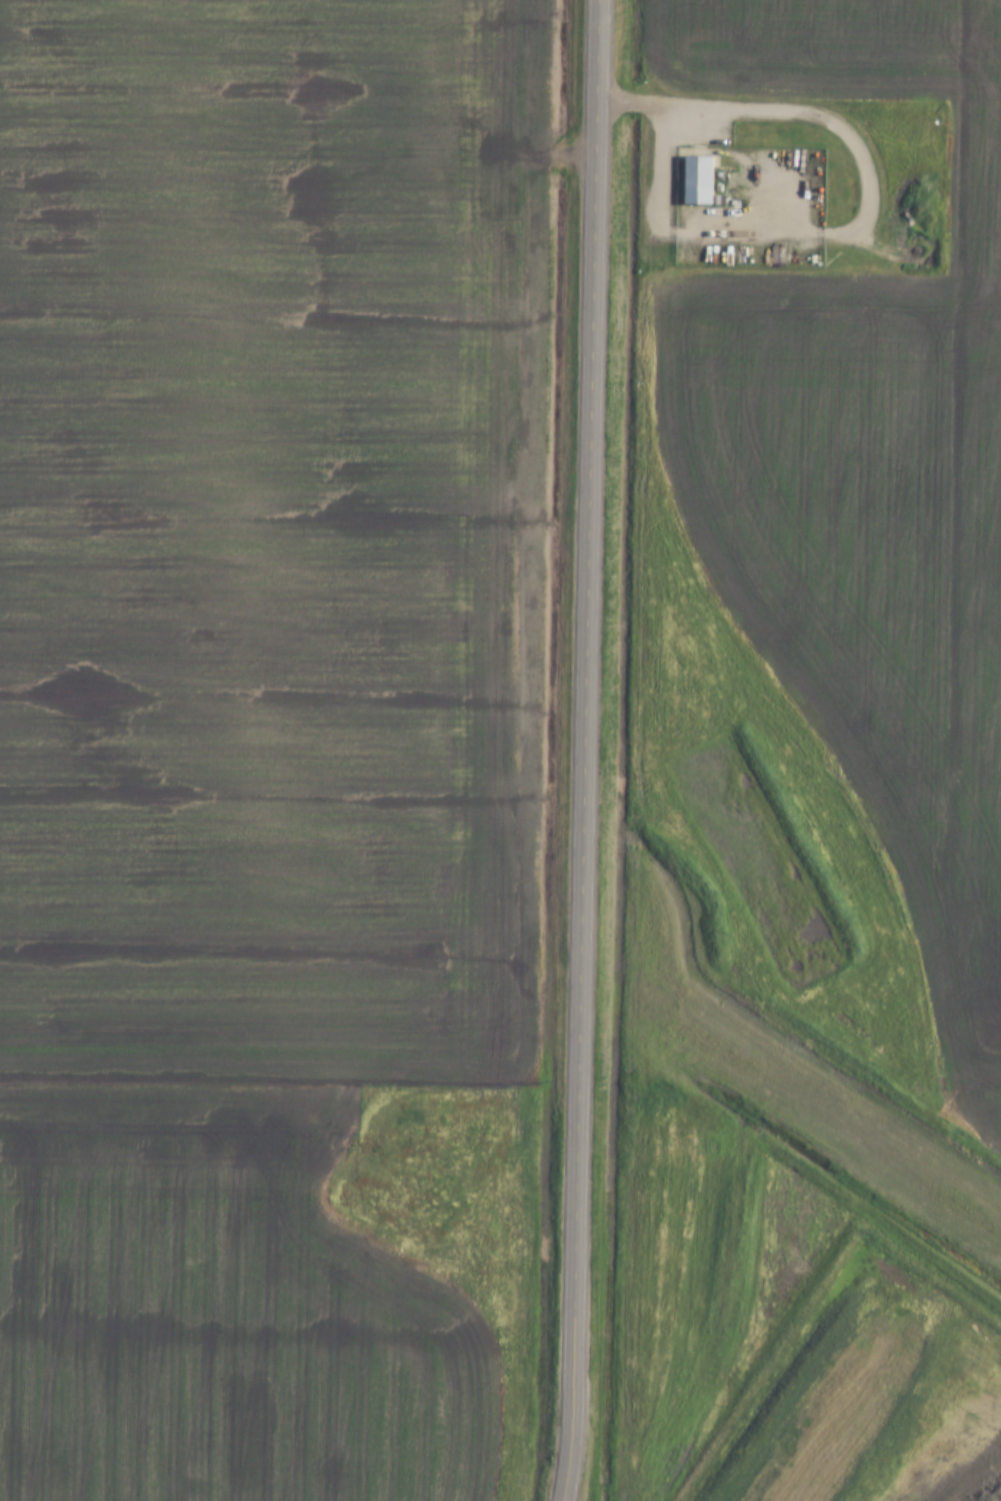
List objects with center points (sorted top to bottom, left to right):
road: (668, 133)
building: (700, 180)
building: (720, 199)
road: (586, 750)

